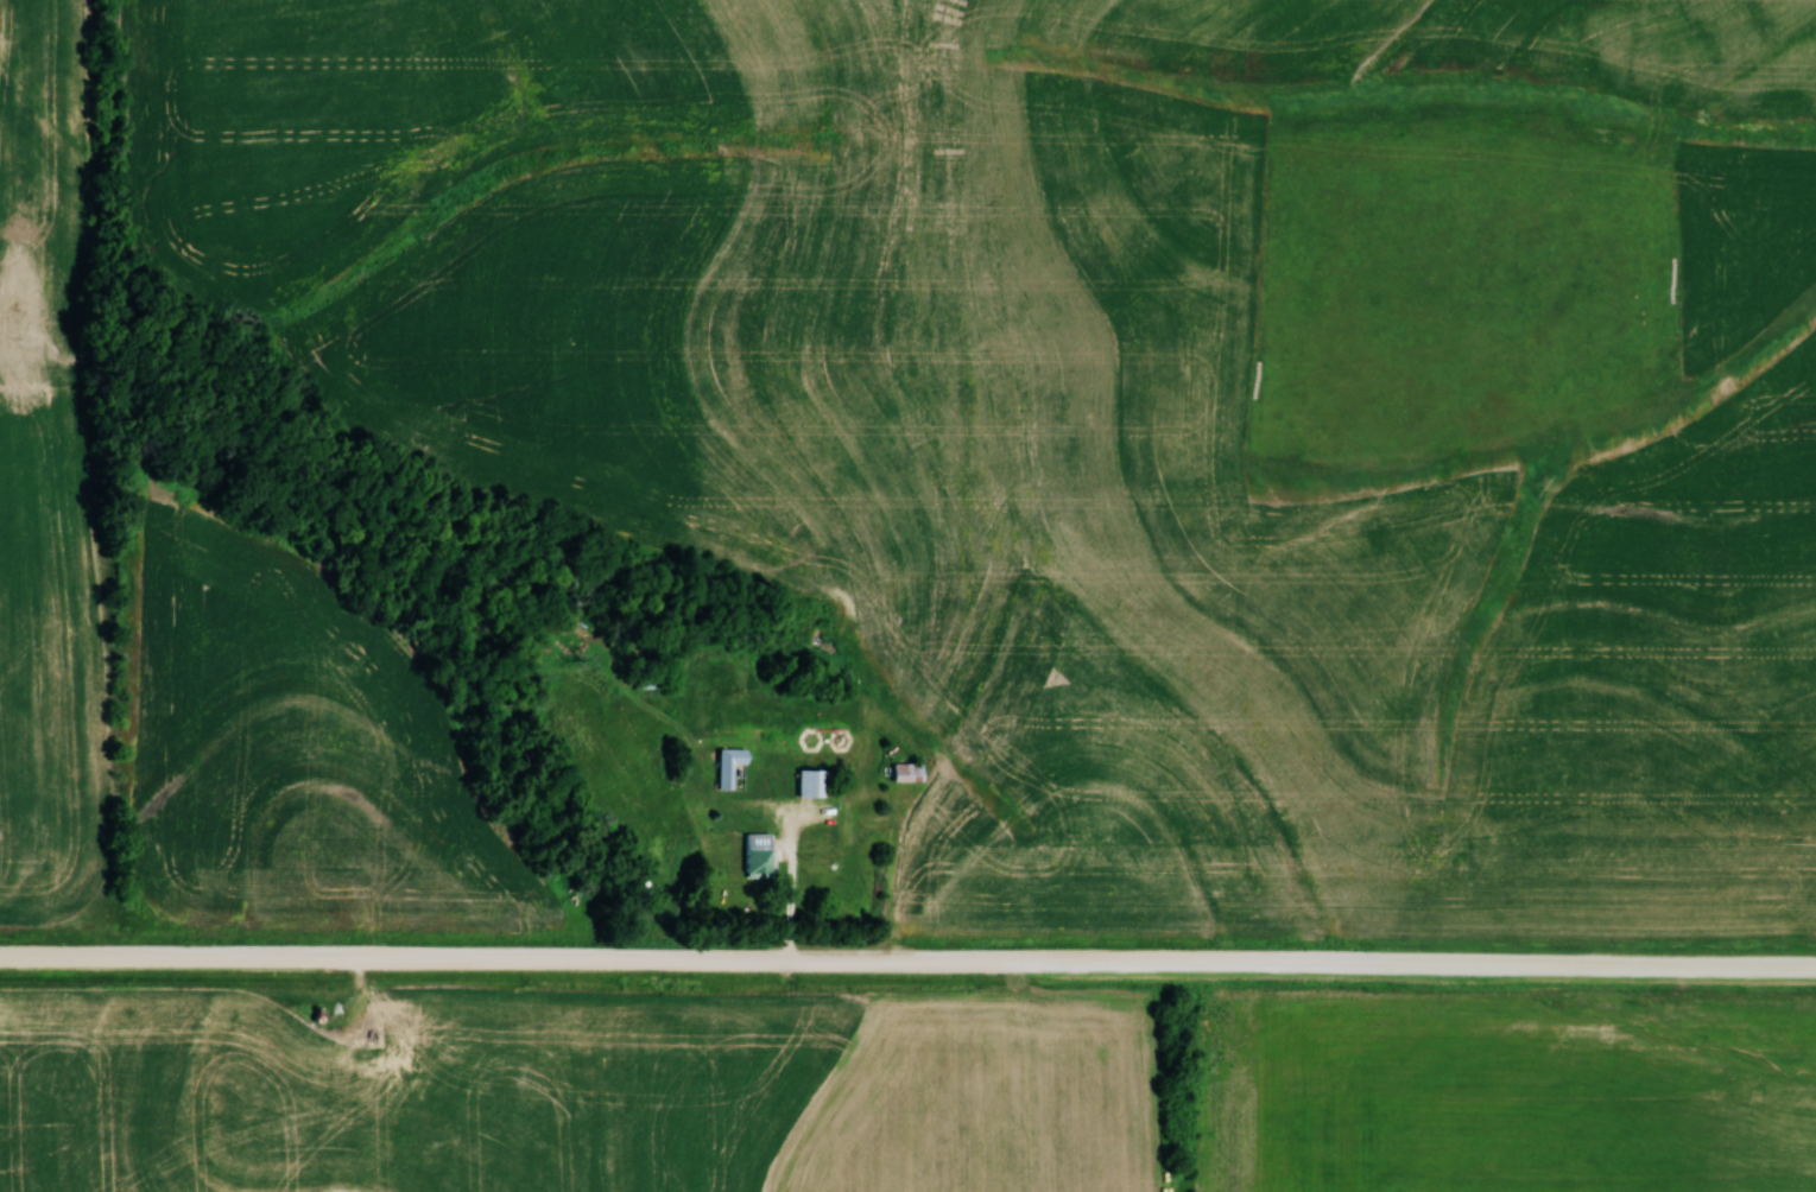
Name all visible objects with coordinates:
building: (727, 765)
building: (905, 772)
building: (809, 782)
building: (755, 862)
road: (907, 943)

